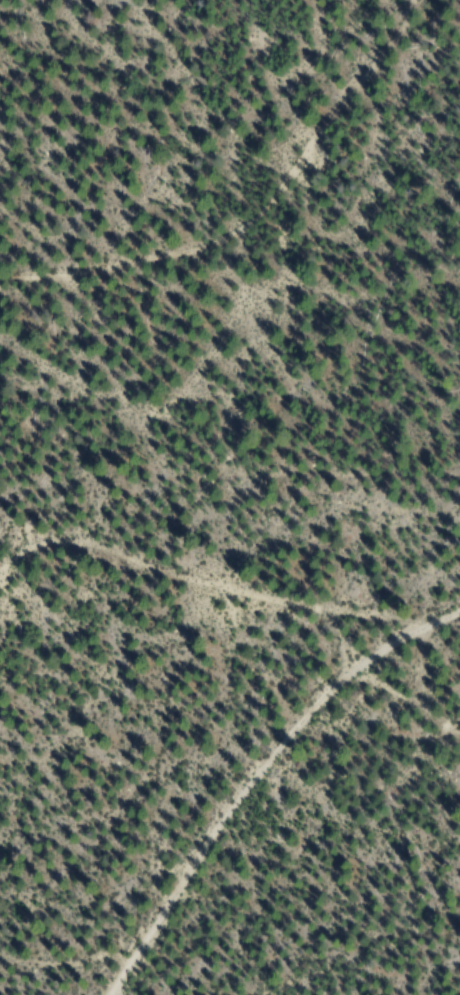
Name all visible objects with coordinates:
road: (275, 266)
road: (217, 548)
road: (458, 601)
road: (385, 637)
road: (271, 766)
road: (88, 963)

